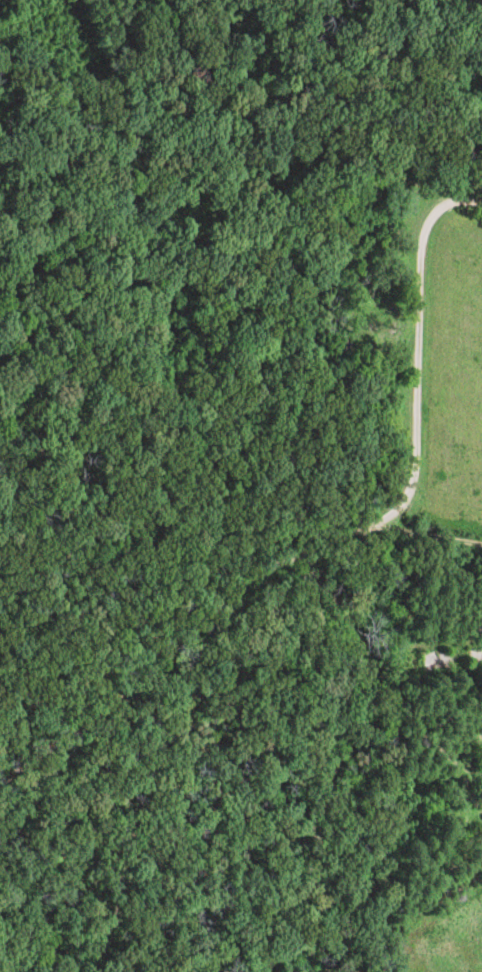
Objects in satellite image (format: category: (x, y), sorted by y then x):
road: (336, 534)
road: (430, 534)

